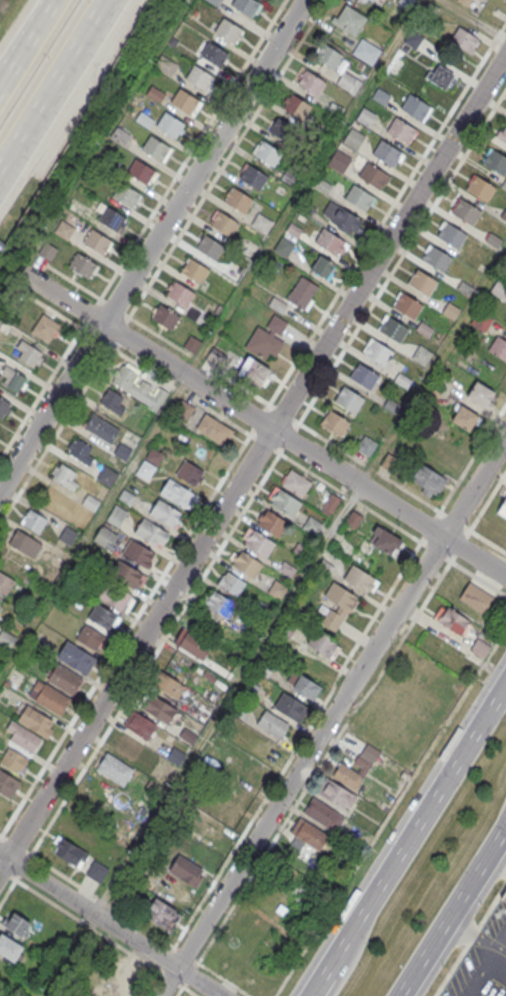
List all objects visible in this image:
building: (214, 1)
building: (367, 1)
building: (464, 2)
building: (404, 3)
building: (246, 5)
building: (429, 11)
road: (474, 19)
building: (349, 20)
road: (33, 28)
building: (228, 30)
building: (414, 38)
building: (464, 39)
building: (366, 51)
building: (214, 54)
building: (328, 55)
building: (168, 60)
road: (7, 68)
building: (441, 76)
building: (199, 77)
building: (346, 80)
building: (311, 83)
road: (56, 89)
building: (154, 94)
building: (380, 95)
building: (185, 101)
building: (295, 106)
building: (415, 106)
building: (335, 108)
building: (365, 116)
building: (143, 119)
building: (169, 124)
building: (283, 130)
building: (401, 130)
building: (503, 134)
building: (120, 135)
building: (353, 139)
building: (155, 148)
building: (267, 153)
building: (386, 153)
road: (226, 158)
building: (338, 160)
building: (495, 160)
building: (141, 171)
building: (372, 174)
building: (254, 177)
building: (290, 178)
building: (504, 184)
building: (322, 185)
building: (480, 188)
building: (127, 195)
building: (359, 197)
building: (238, 199)
building: (307, 209)
building: (466, 211)
road: (386, 212)
building: (503, 214)
building: (341, 217)
building: (112, 218)
building: (261, 222)
building: (224, 223)
building: (63, 229)
road: (141, 229)
building: (293, 229)
building: (451, 235)
building: (493, 239)
building: (97, 240)
building: (329, 241)
road: (151, 244)
building: (209, 246)
building: (283, 247)
building: (46, 250)
building: (437, 258)
building: (83, 265)
building: (322, 266)
building: (195, 269)
building: (232, 269)
building: (423, 282)
road: (383, 285)
road: (81, 286)
building: (464, 287)
building: (499, 289)
building: (301, 291)
building: (179, 293)
building: (277, 304)
building: (407, 305)
building: (451, 310)
building: (165, 318)
building: (203, 319)
building: (481, 320)
building: (276, 324)
building: (4, 326)
building: (392, 328)
building: (424, 328)
building: (263, 342)
building: (192, 343)
building: (498, 347)
building: (377, 352)
building: (30, 354)
building: (421, 354)
building: (214, 355)
road: (198, 360)
building: (254, 371)
building: (363, 375)
building: (442, 377)
building: (15, 380)
building: (402, 380)
building: (138, 386)
building: (433, 390)
building: (479, 393)
building: (111, 398)
building: (349, 399)
building: (391, 405)
building: (4, 407)
building: (183, 410)
building: (464, 416)
road: (64, 419)
building: (334, 422)
road: (262, 424)
building: (102, 427)
building: (214, 429)
building: (365, 444)
building: (80, 449)
building: (123, 450)
building: (154, 456)
road: (253, 460)
road: (293, 461)
building: (389, 461)
building: (145, 469)
road: (463, 472)
building: (190, 473)
building: (65, 475)
building: (107, 475)
road: (387, 478)
building: (428, 478)
building: (294, 483)
building: (179, 495)
building: (126, 496)
building: (90, 501)
building: (282, 502)
building: (330, 504)
building: (502, 508)
building: (166, 514)
building: (116, 515)
building: (353, 519)
building: (34, 520)
road: (334, 523)
building: (270, 524)
building: (311, 525)
road: (93, 527)
building: (152, 533)
building: (68, 535)
building: (105, 537)
building: (384, 541)
building: (24, 543)
building: (257, 544)
building: (301, 550)
building: (138, 554)
building: (244, 563)
building: (324, 566)
building: (286, 569)
building: (125, 573)
building: (358, 578)
building: (5, 583)
building: (230, 583)
building: (276, 590)
building: (115, 597)
building: (476, 597)
building: (337, 603)
building: (217, 605)
building: (262, 610)
building: (102, 615)
road: (133, 620)
building: (452, 620)
building: (286, 628)
building: (90, 636)
building: (5, 639)
building: (322, 641)
building: (192, 642)
building: (479, 647)
building: (77, 657)
building: (178, 668)
building: (263, 668)
building: (65, 678)
road: (137, 680)
road: (334, 682)
building: (167, 684)
building: (303, 686)
building: (250, 689)
building: (51, 697)
building: (290, 706)
building: (158, 708)
building: (238, 709)
road: (332, 715)
building: (35, 720)
building: (272, 723)
building: (141, 725)
building: (187, 734)
building: (25, 738)
building: (128, 745)
building: (176, 755)
building: (14, 761)
building: (114, 769)
building: (351, 772)
building: (8, 783)
building: (152, 787)
building: (335, 792)
road: (390, 812)
building: (321, 813)
road: (416, 822)
building: (212, 828)
building: (308, 833)
road: (15, 844)
building: (71, 852)
building: (97, 870)
building: (184, 870)
road: (12, 884)
building: (176, 893)
building: (504, 896)
road: (453, 912)
building: (162, 914)
road: (110, 923)
building: (17, 924)
road: (469, 938)
building: (9, 947)
road: (355, 950)
building: (127, 967)
road: (318, 982)
building: (115, 987)

